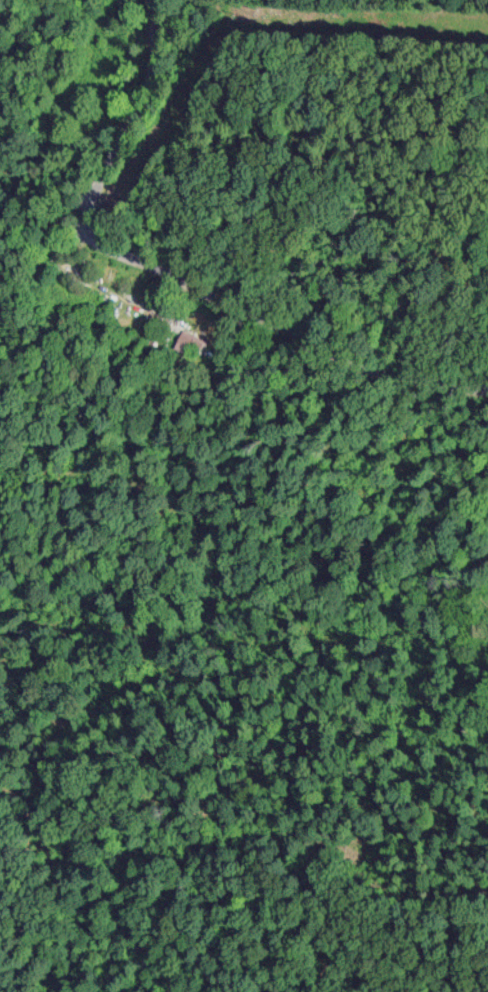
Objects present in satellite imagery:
road: (173, 273)
building: (190, 341)
road: (459, 406)

